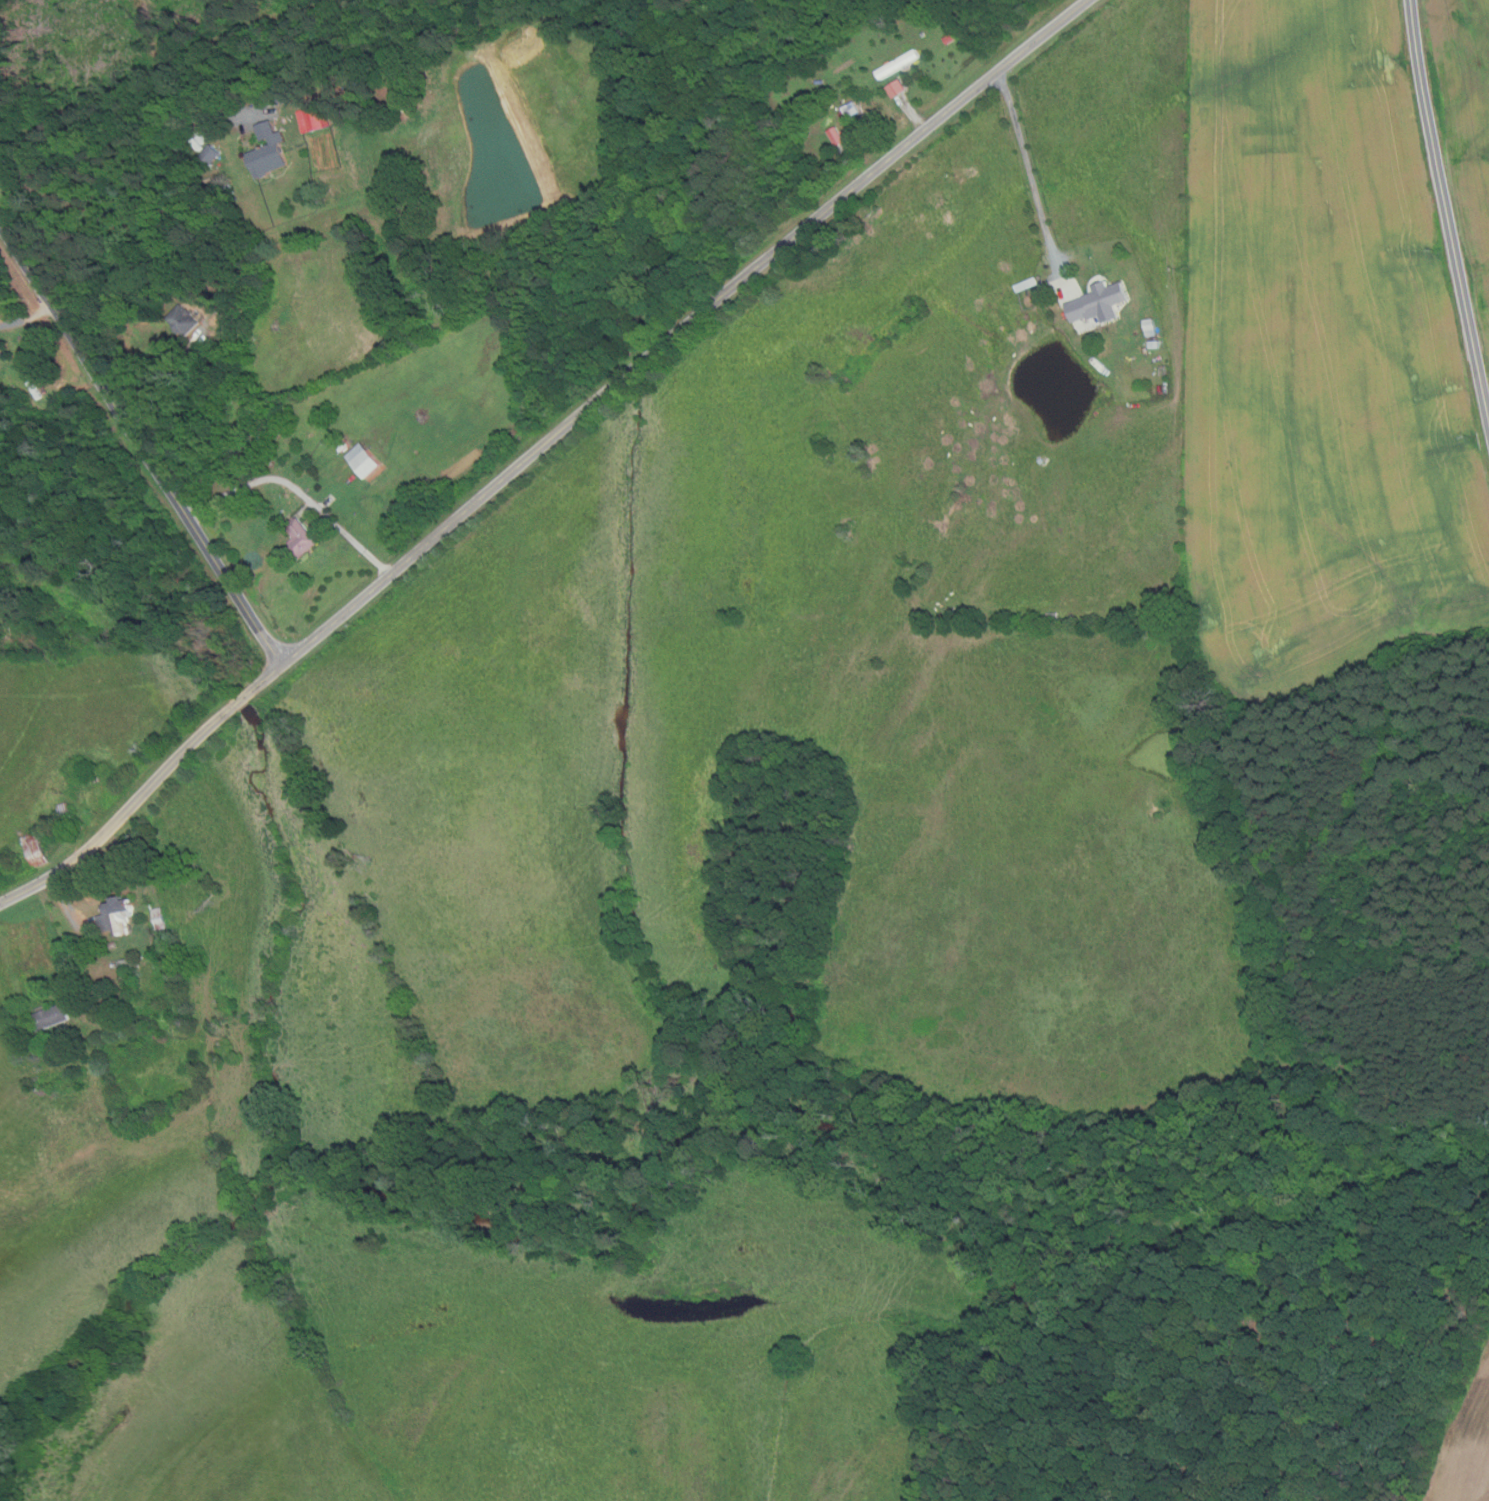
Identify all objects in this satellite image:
building: (950, 22)
building: (923, 34)
building: (952, 37)
building: (900, 63)
building: (897, 88)
building: (804, 106)
building: (851, 109)
road: (913, 114)
building: (316, 118)
crop: (1466, 119)
building: (870, 123)
building: (838, 136)
road: (122, 138)
building: (270, 151)
building: (213, 153)
road: (1029, 172)
road: (1447, 209)
building: (154, 236)
building: (175, 269)
building: (1035, 282)
building: (1099, 305)
road: (27, 317)
building: (185, 320)
building: (1151, 327)
road: (665, 344)
building: (1155, 344)
building: (0, 354)
crop: (1320, 367)
road: (172, 387)
road: (141, 441)
building: (344, 444)
building: (365, 460)
road: (299, 490)
building: (304, 538)
road: (241, 700)
building: (67, 812)
road: (123, 812)
building: (35, 849)
road: (63, 902)
building: (120, 916)
building: (160, 919)
building: (112, 945)
building: (161, 948)
building: (131, 964)
building: (53, 1018)
building: (158, 1035)
crop: (1464, 1446)

